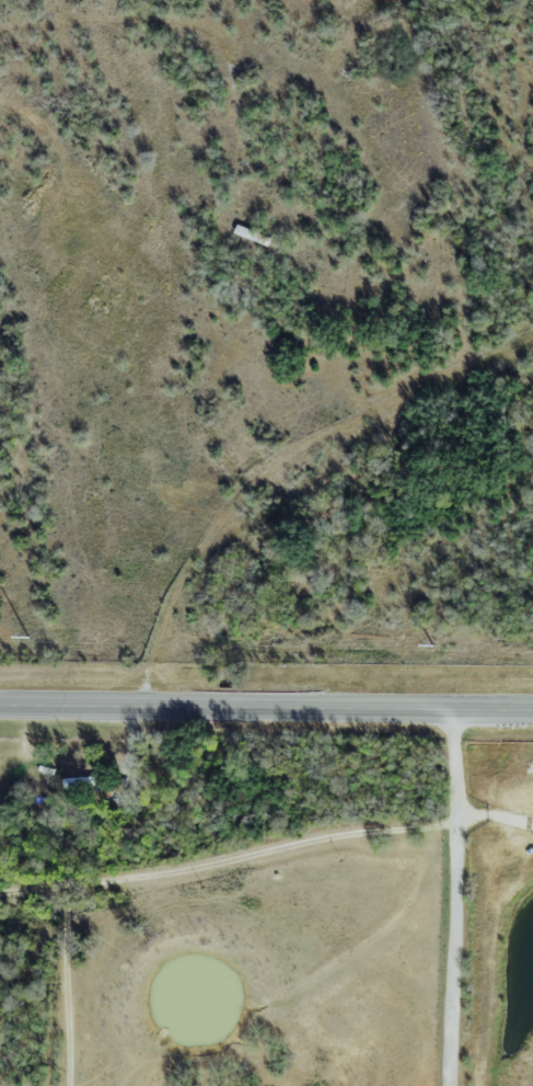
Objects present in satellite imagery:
power tower: (31, 639)
power tower: (437, 648)
road: (266, 708)
building: (76, 781)
road: (498, 819)
road: (167, 872)
road: (465, 898)

